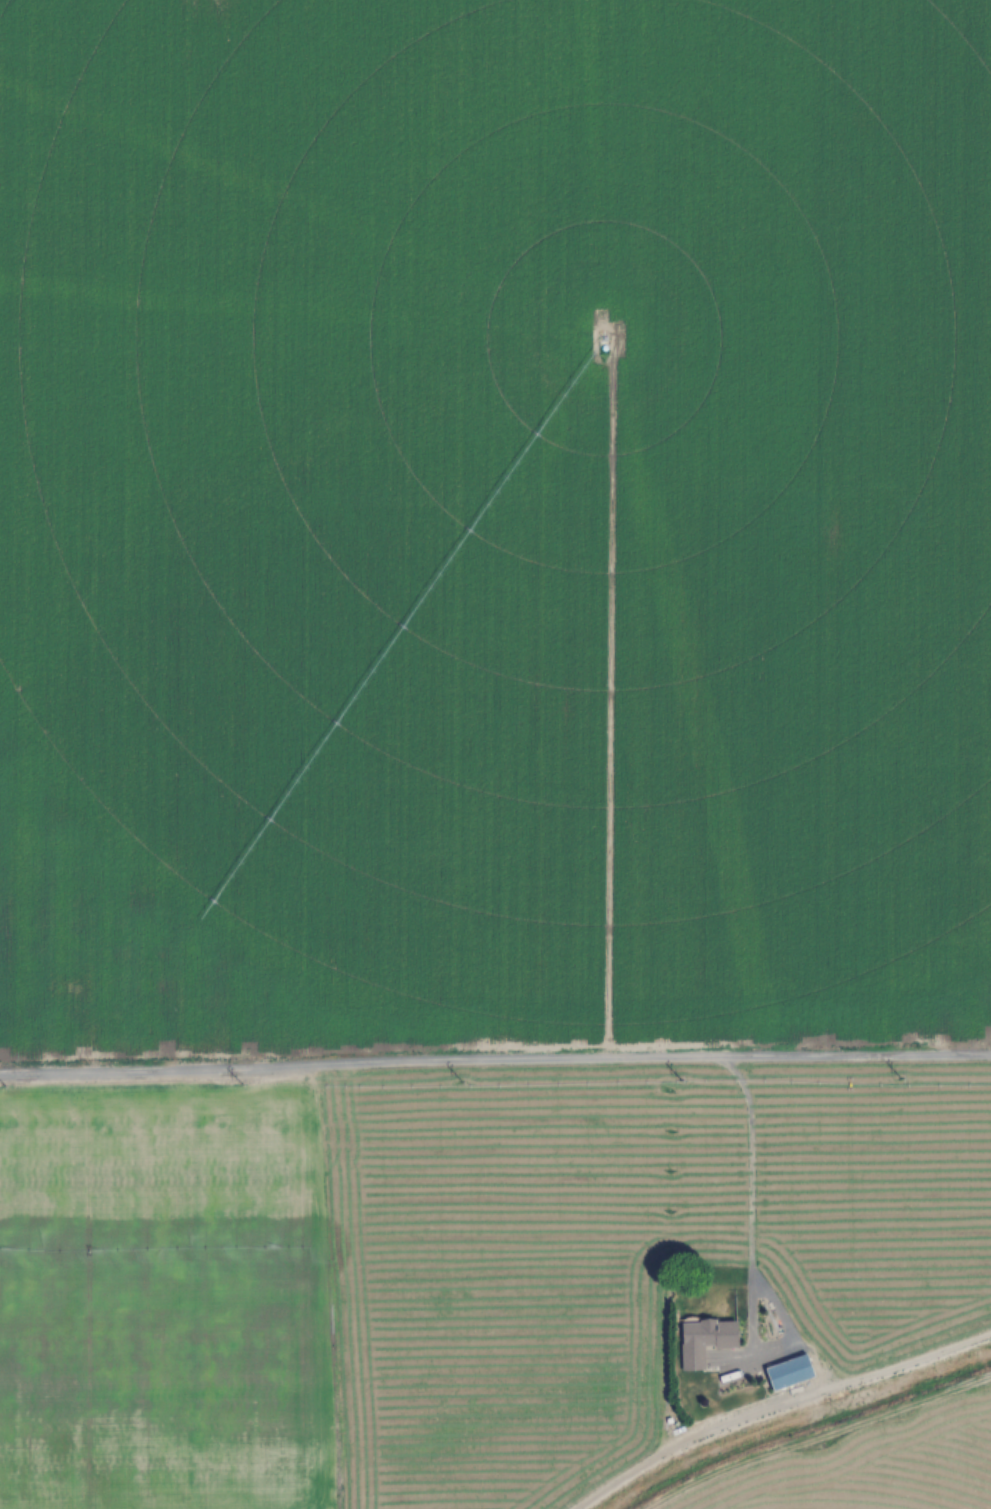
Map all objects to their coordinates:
road: (495, 1066)
building: (707, 1343)
building: (789, 1372)
road: (762, 1406)

